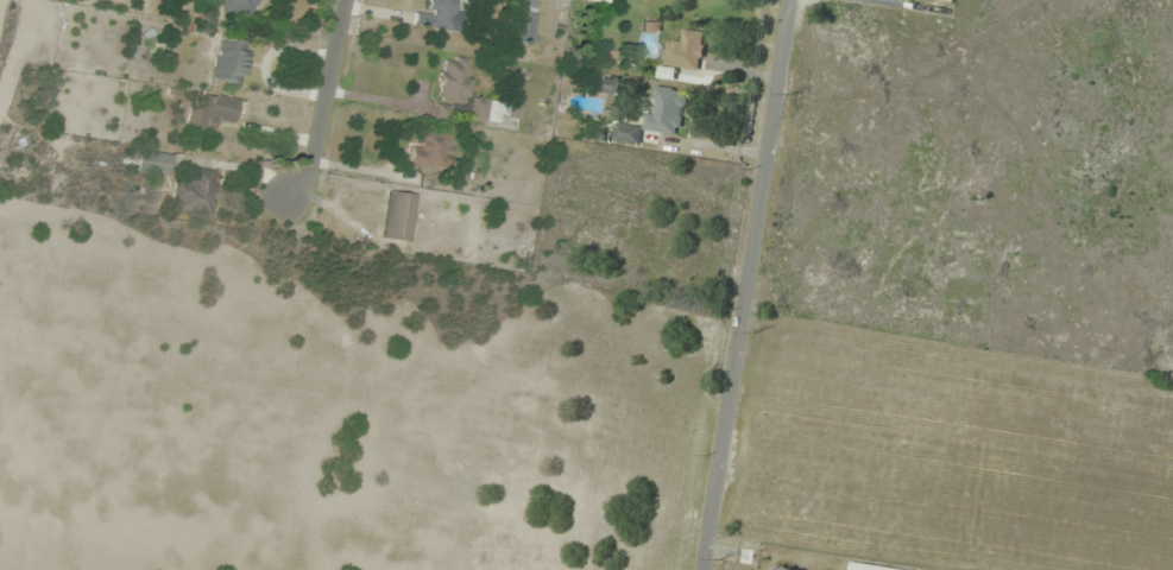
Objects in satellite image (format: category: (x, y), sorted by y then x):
road: (0, 5)
building: (240, 6)
building: (439, 14)
building: (528, 21)
building: (686, 50)
building: (232, 62)
building: (455, 80)
building: (601, 87)
road: (322, 104)
building: (217, 109)
building: (480, 109)
building: (664, 112)
building: (628, 133)
building: (430, 150)
building: (154, 163)
building: (195, 192)
building: (399, 215)
road: (744, 285)

